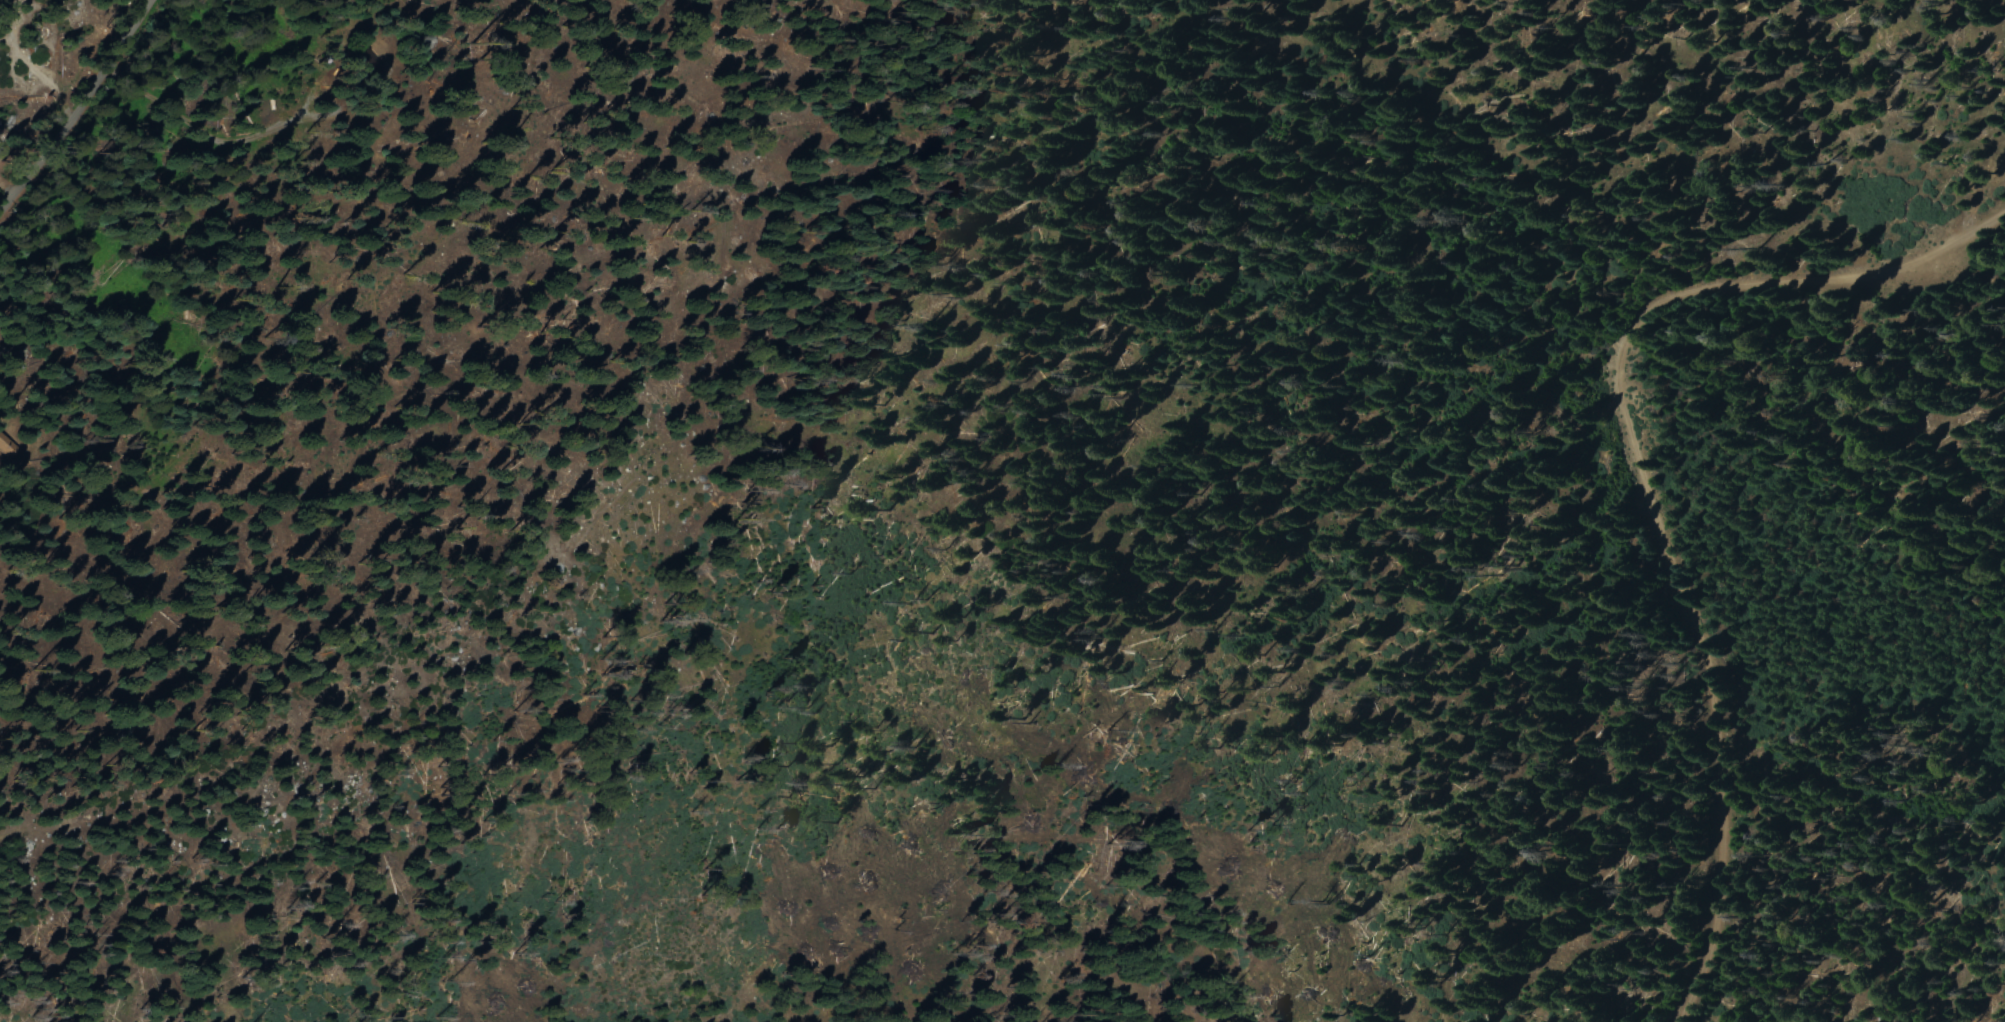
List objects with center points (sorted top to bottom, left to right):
road: (77, 105)
road: (1776, 278)
road: (1691, 713)

